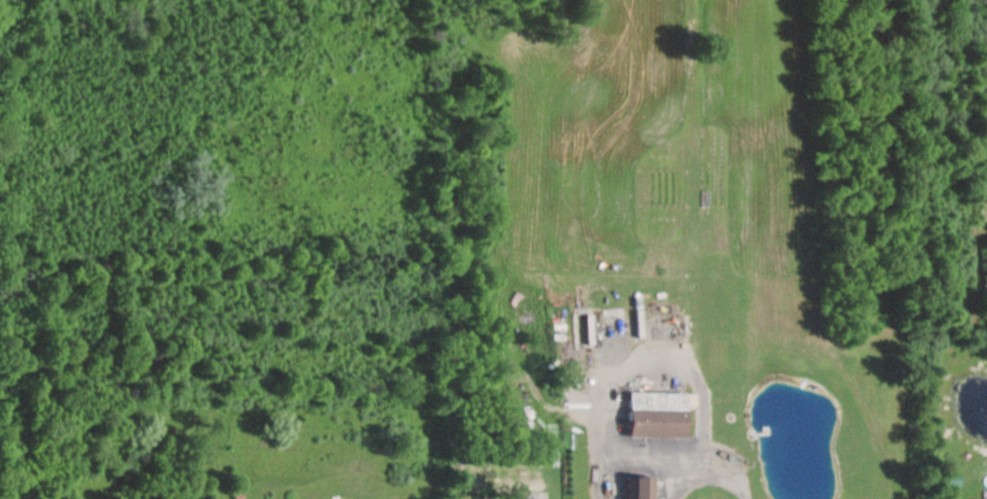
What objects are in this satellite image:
building: (651, 416)
road: (710, 475)
building: (638, 489)
building: (983, 495)

